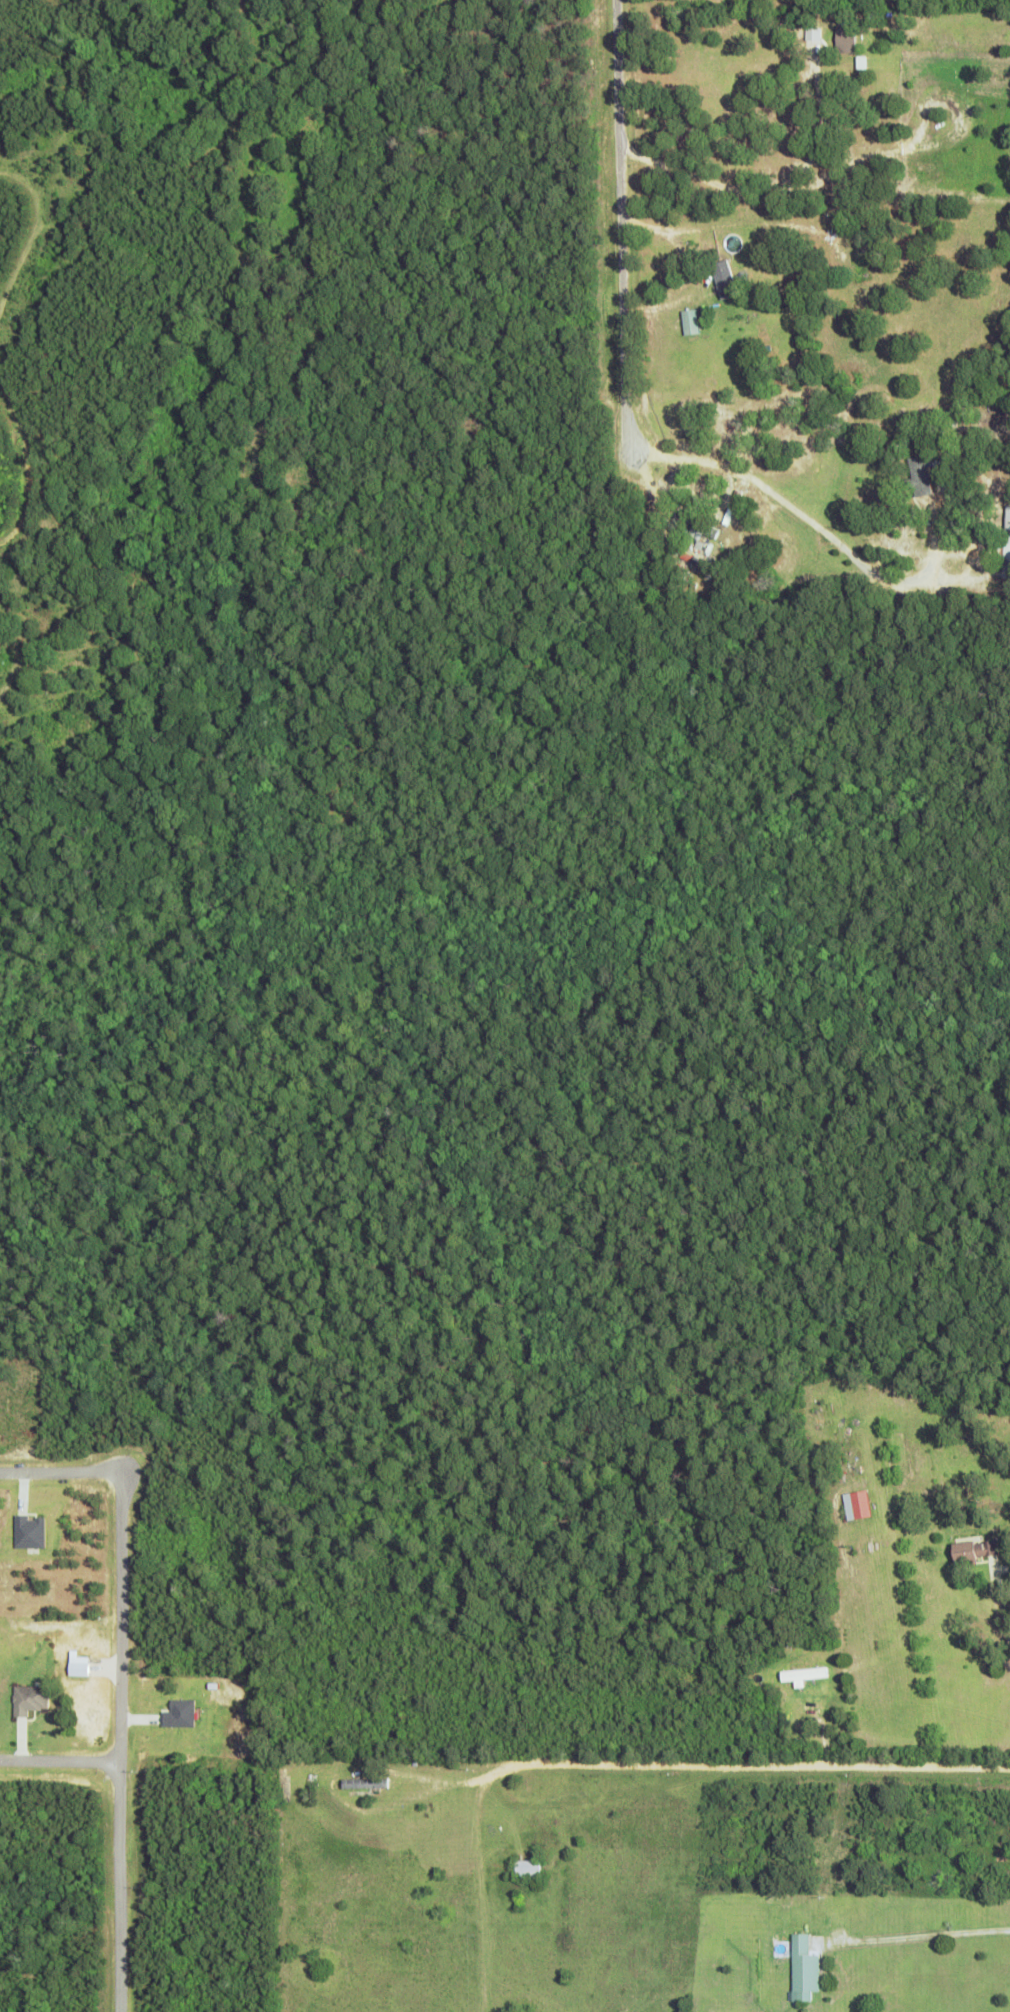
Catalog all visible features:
building: (843, 40)
road: (614, 223)
building: (721, 279)
building: (687, 322)
building: (917, 476)
building: (1006, 530)
building: (855, 1505)
building: (27, 1532)
building: (973, 1550)
road: (119, 1562)
building: (803, 1674)
building: (28, 1699)
building: (178, 1714)
road: (59, 1761)
road: (760, 1766)
building: (364, 1783)
building: (526, 1868)
road: (118, 1887)
building: (803, 1969)

